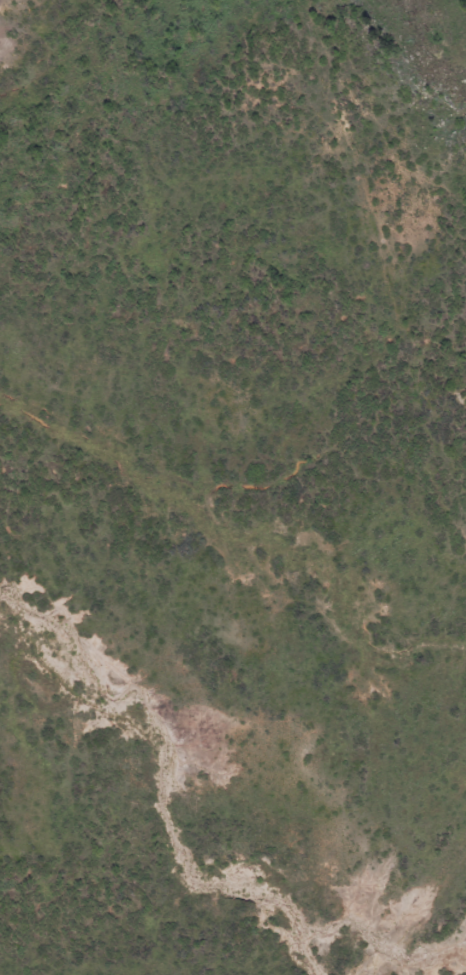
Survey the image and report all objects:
road: (460, 968)

